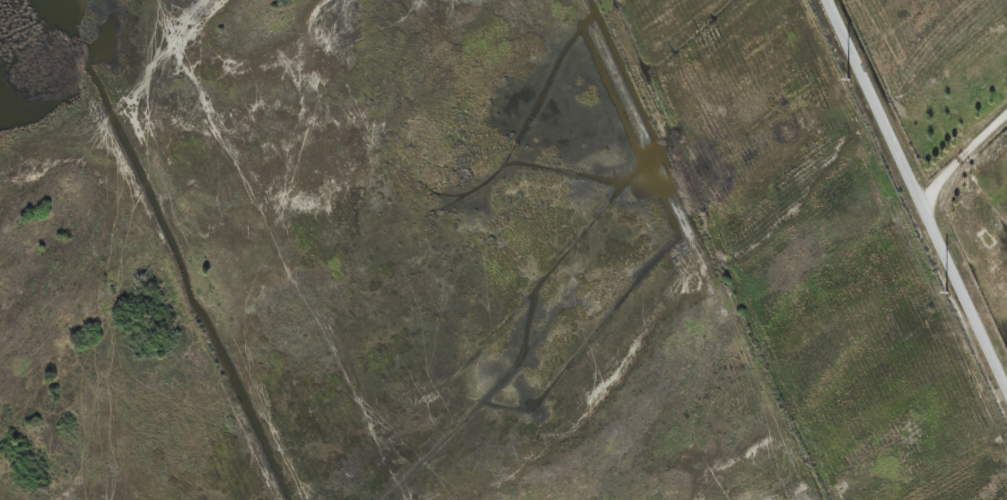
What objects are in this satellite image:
road: (962, 156)
road: (917, 192)

